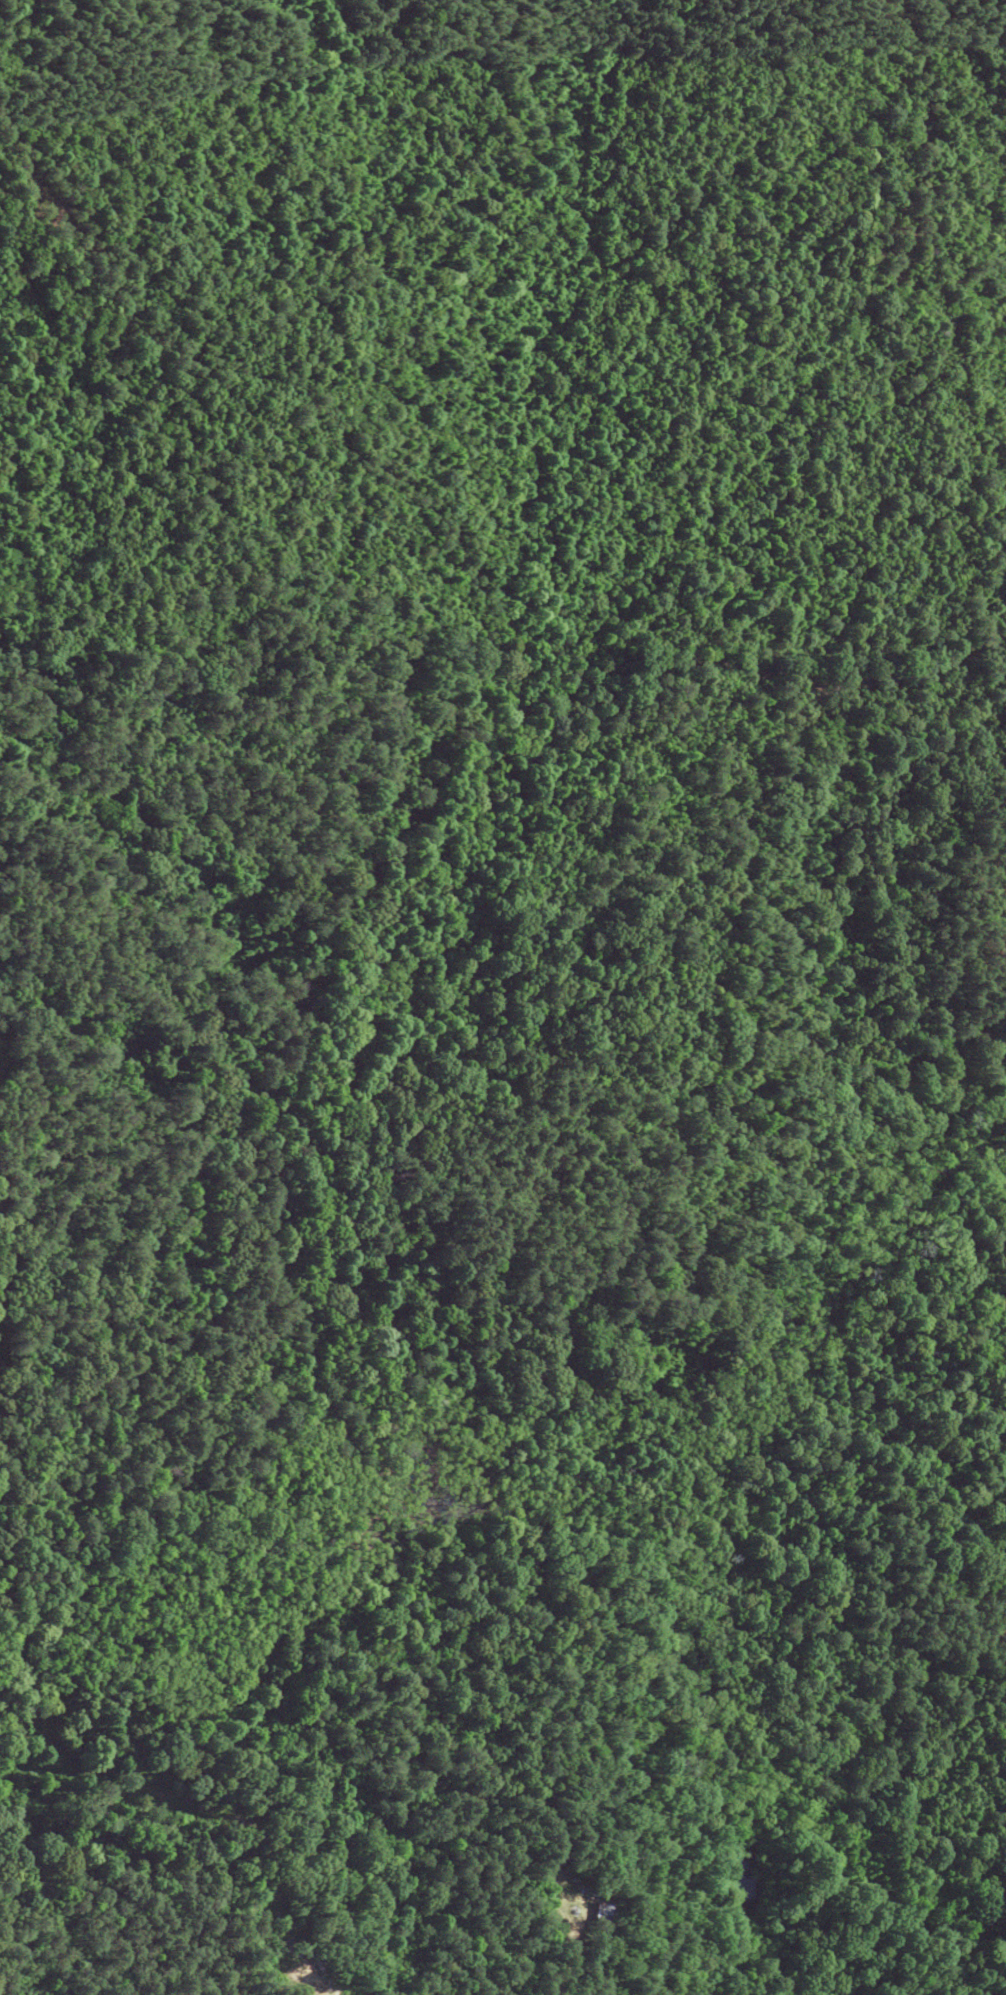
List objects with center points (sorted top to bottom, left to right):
road: (747, 1848)
building: (600, 1912)

